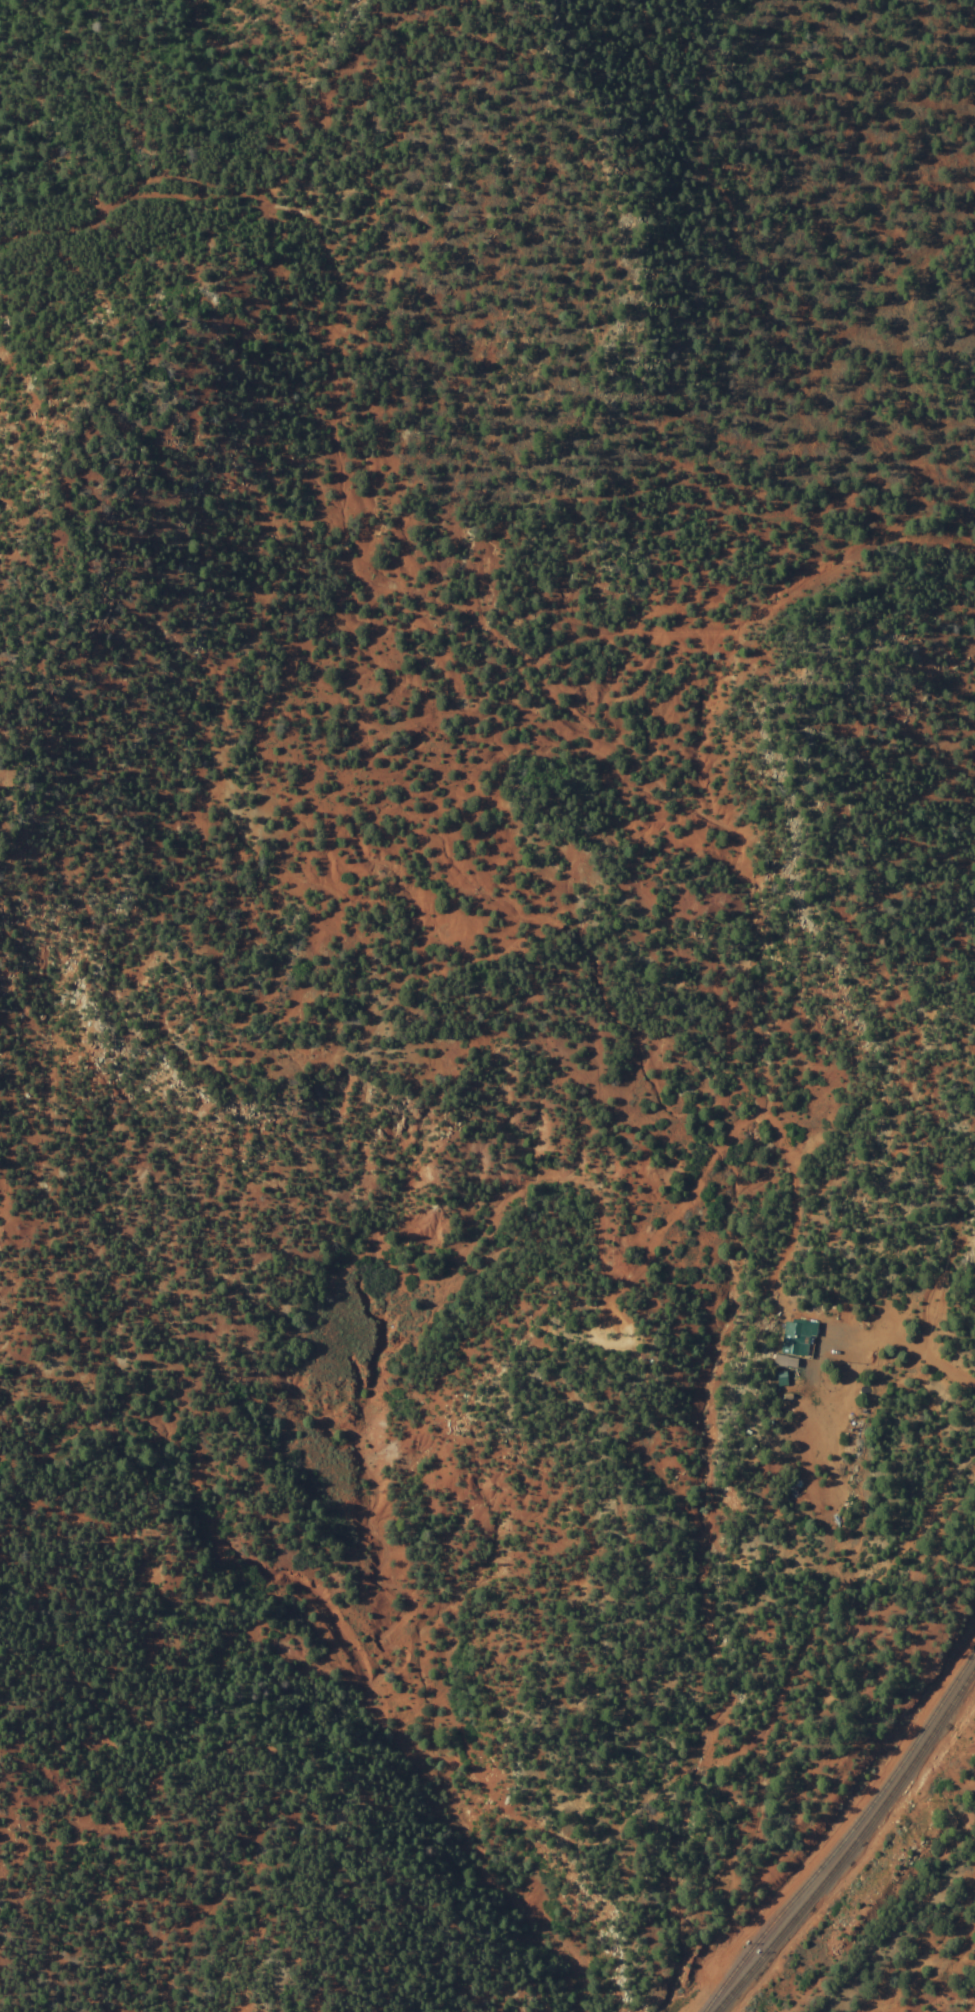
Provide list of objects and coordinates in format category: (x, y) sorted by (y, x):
building: (791, 1338)
road: (943, 1363)
railway: (911, 1765)
road: (837, 1826)
railway: (846, 1835)
railway: (778, 1935)

